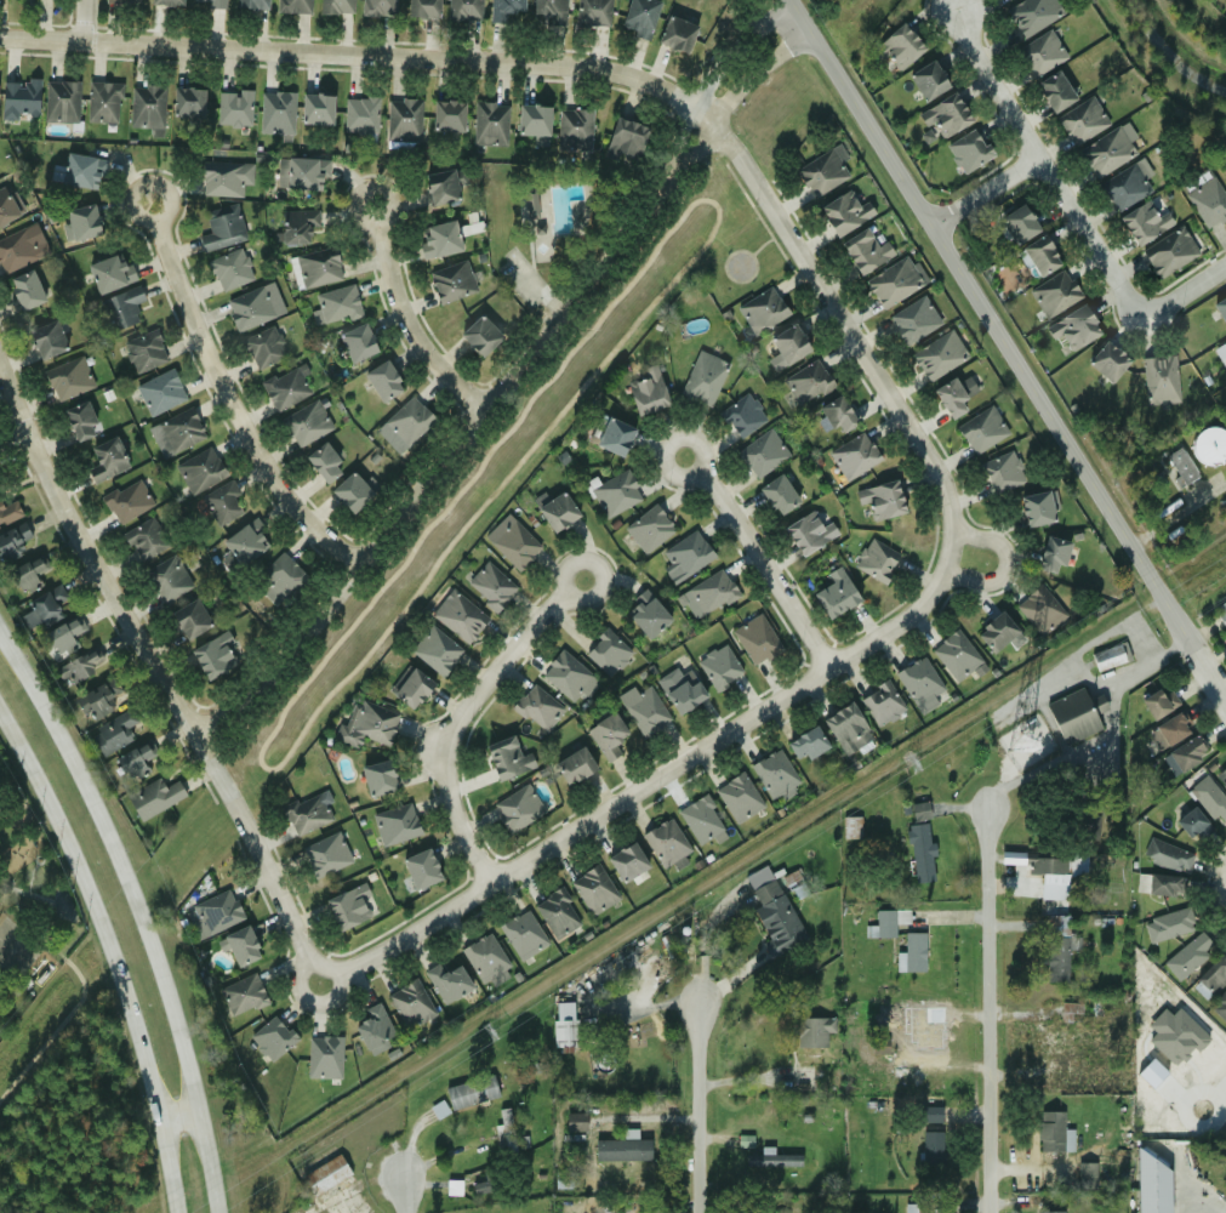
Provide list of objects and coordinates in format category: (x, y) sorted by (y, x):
building: (122, 1)
building: (166, 1)
building: (212, 4)
building: (251, 4)
building: (295, 5)
building: (336, 6)
building: (380, 7)
building: (423, 7)
building: (463, 8)
building: (503, 8)
building: (551, 11)
building: (592, 12)
building: (1033, 15)
building: (640, 17)
road: (84, 19)
building: (677, 34)
building: (897, 47)
building: (1040, 53)
road: (612, 70)
road: (712, 73)
building: (928, 80)
building: (1055, 91)
road: (736, 93)
building: (19, 97)
building: (61, 101)
building: (103, 102)
building: (188, 102)
building: (147, 107)
building: (234, 108)
building: (318, 109)
building: (276, 113)
building: (360, 114)
building: (447, 115)
building: (945, 115)
building: (403, 119)
building: (1083, 120)
building: (534, 121)
building: (490, 124)
building: (575, 127)
road: (1027, 132)
building: (626, 139)
building: (968, 150)
building: (1108, 150)
building: (82, 171)
building: (823, 172)
building: (306, 173)
building: (222, 180)
building: (1127, 184)
building: (444, 186)
road: (987, 190)
building: (1208, 201)
building: (531, 205)
building: (6, 207)
building: (844, 212)
building: (82, 222)
building: (1144, 222)
building: (1019, 223)
park: (548, 224)
building: (297, 226)
building: (221, 227)
building: (439, 239)
building: (17, 250)
building: (866, 251)
building: (1169, 252)
building: (1042, 256)
building: (318, 267)
building: (230, 269)
building: (109, 273)
building: (452, 281)
building: (895, 281)
building: (24, 290)
building: (1054, 294)
road: (1156, 300)
building: (337, 304)
building: (255, 307)
building: (121, 308)
building: (1220, 308)
building: (762, 311)
road: (407, 319)
building: (914, 320)
building: (1074, 328)
building: (480, 335)
building: (47, 340)
building: (357, 342)
building: (1224, 343)
building: (788, 344)
building: (263, 347)
road: (1009, 348)
building: (144, 351)
building: (939, 355)
building: (1107, 361)
building: (1225, 361)
building: (68, 378)
building: (703, 378)
building: (383, 380)
building: (1159, 380)
building: (808, 382)
building: (286, 387)
building: (159, 392)
building: (648, 392)
building: (954, 394)
road: (229, 398)
building: (838, 415)
building: (742, 416)
building: (81, 421)
building: (307, 423)
building: (406, 423)
building: (981, 429)
building: (176, 432)
building: (615, 438)
road: (15, 442)
building: (1209, 445)
building: (763, 454)
building: (854, 456)
building: (107, 459)
road: (444, 460)
building: (324, 462)
building: (1180, 466)
building: (200, 471)
building: (1000, 472)
building: (350, 492)
building: (615, 494)
building: (779, 495)
building: (127, 500)
building: (882, 500)
building: (222, 503)
building: (1038, 508)
building: (8, 512)
building: (558, 512)
building: (649, 529)
building: (809, 533)
building: (146, 539)
building: (246, 541)
building: (12, 542)
building: (514, 545)
building: (1053, 554)
building: (685, 556)
road: (760, 559)
building: (876, 560)
road: (1002, 565)
building: (28, 574)
building: (281, 577)
building: (167, 579)
building: (490, 586)
building: (711, 593)
building: (836, 593)
building: (41, 610)
building: (1039, 610)
building: (1220, 613)
building: (456, 614)
building: (646, 615)
building: (190, 619)
road: (1120, 627)
building: (997, 632)
building: (64, 636)
building: (755, 639)
building: (435, 650)
building: (608, 653)
building: (215, 655)
building: (956, 655)
building: (1110, 656)
building: (81, 666)
building: (719, 667)
road: (158, 668)
building: (569, 677)
building: (919, 680)
building: (680, 688)
road: (1112, 688)
building: (411, 689)
building: (98, 699)
building: (882, 704)
building: (1161, 704)
road: (478, 705)
building: (1097, 706)
building: (537, 708)
building: (644, 708)
building: (1072, 717)
building: (371, 724)
building: (846, 728)
building: (1171, 729)
building: (113, 733)
building: (606, 735)
road: (1114, 738)
building: (806, 745)
building: (1188, 753)
building: (135, 758)
building: (507, 758)
power tower: (909, 759)
building: (574, 767)
building: (774, 774)
building: (378, 778)
building: (1221, 778)
road: (657, 786)
building: (153, 797)
building: (739, 797)
building: (1209, 799)
building: (518, 808)
building: (919, 811)
building: (306, 813)
building: (701, 819)
building: (395, 824)
building: (1194, 825)
building: (851, 827)
building: (665, 842)
building: (922, 852)
building: (326, 855)
building: (1167, 856)
building: (627, 862)
building: (1045, 865)
building: (421, 870)
road: (1222, 884)
building: (1165, 885)
building: (594, 889)
building: (777, 906)
building: (348, 907)
road: (137, 911)
building: (216, 912)
building: (557, 913)
building: (889, 922)
building: (1169, 924)
building: (523, 935)
building: (7, 936)
building: (241, 946)
building: (1056, 949)
road: (110, 952)
building: (914, 952)
building: (1188, 956)
building: (484, 957)
building: (23, 959)
building: (1213, 975)
building: (447, 983)
building: (241, 995)
building: (411, 1003)
building: (1219, 1006)
road: (986, 1012)
building: (565, 1024)
building: (373, 1027)
power tower: (487, 1030)
building: (811, 1031)
building: (1175, 1036)
building: (272, 1037)
building: (928, 1042)
building: (878, 1046)
building: (324, 1057)
building: (804, 1077)
building: (472, 1092)
road: (697, 1107)
road: (179, 1114)
building: (930, 1115)
building: (576, 1122)
building: (1050, 1132)
building: (507, 1133)
building: (931, 1141)
building: (622, 1149)
building: (771, 1158)
building: (325, 1174)
building: (1087, 1175)
building: (565, 1180)
building: (497, 1181)
building: (1152, 1185)
building: (452, 1186)
road: (404, 1195)
building: (914, 1208)
building: (1051, 1212)

